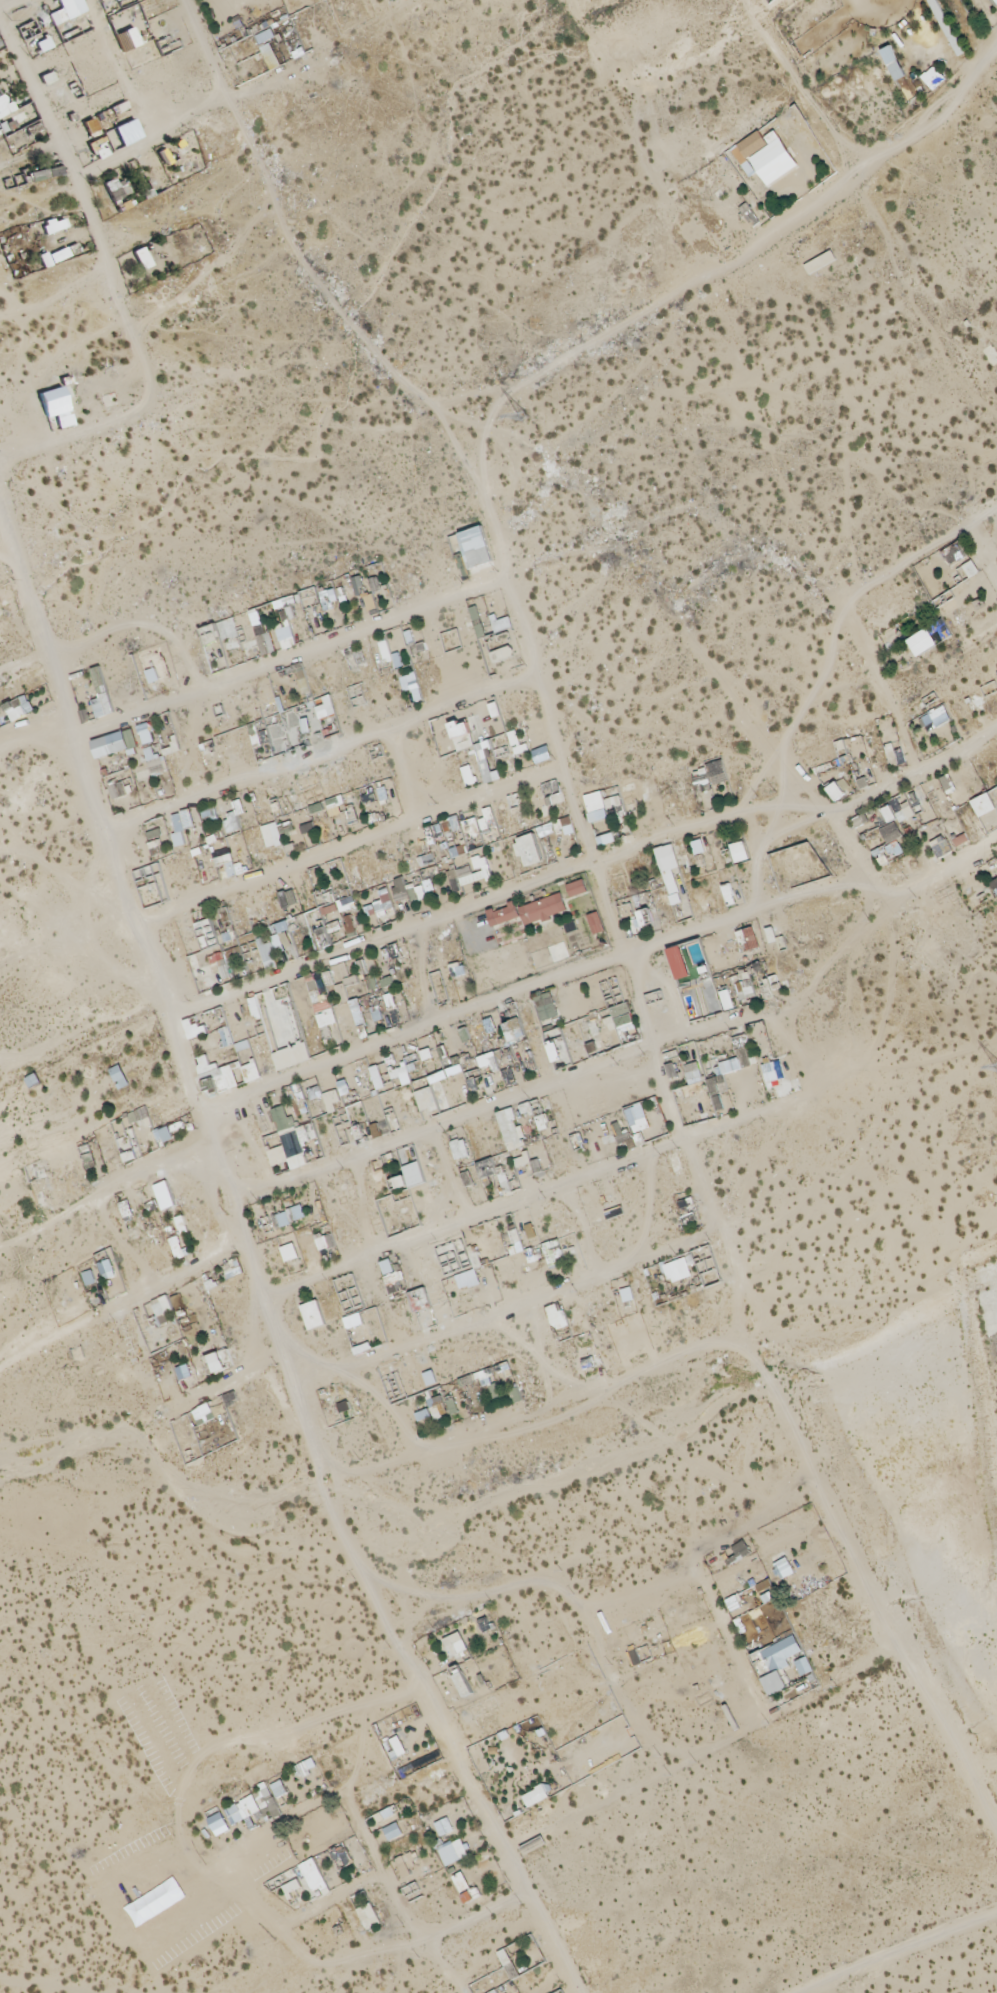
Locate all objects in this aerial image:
power tower: (519, 415)
power tower: (995, 1065)

